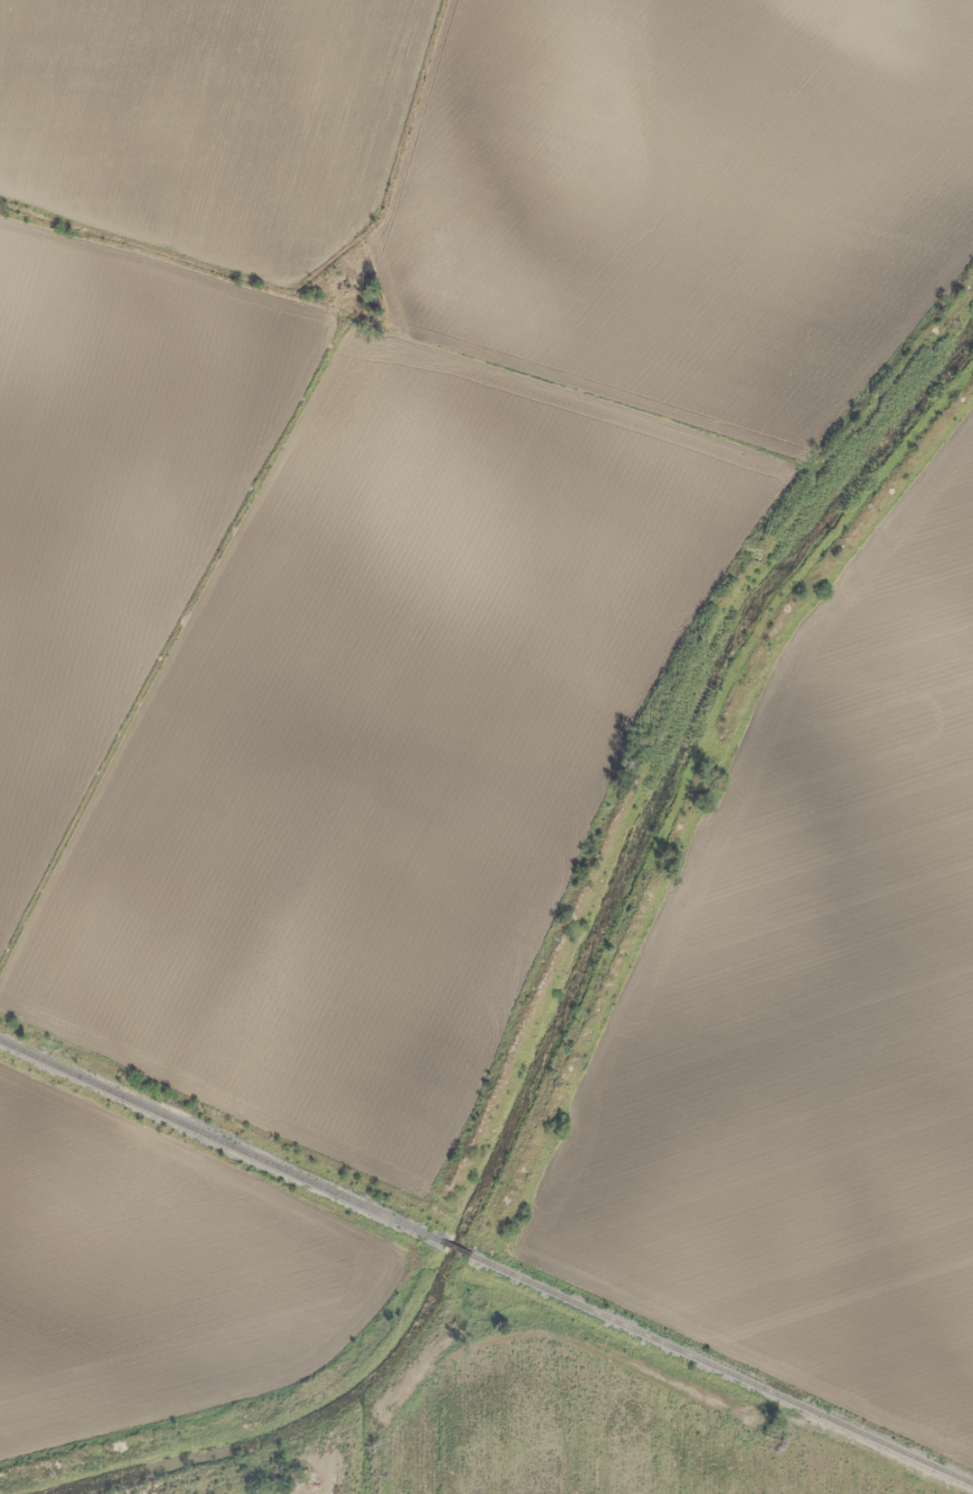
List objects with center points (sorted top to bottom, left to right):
railway: (486, 1261)

